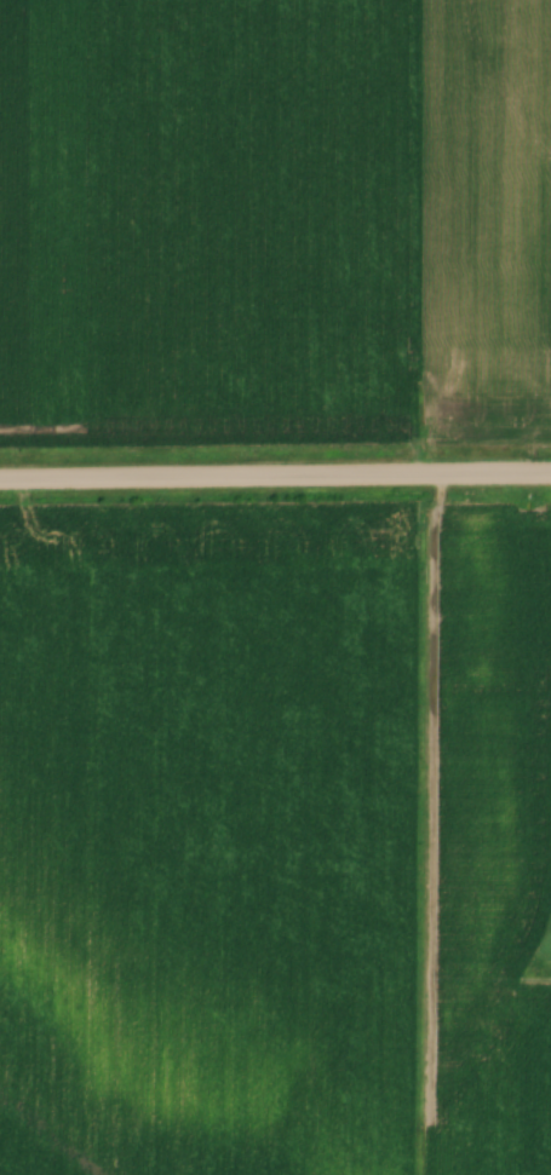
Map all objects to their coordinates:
road: (275, 483)

